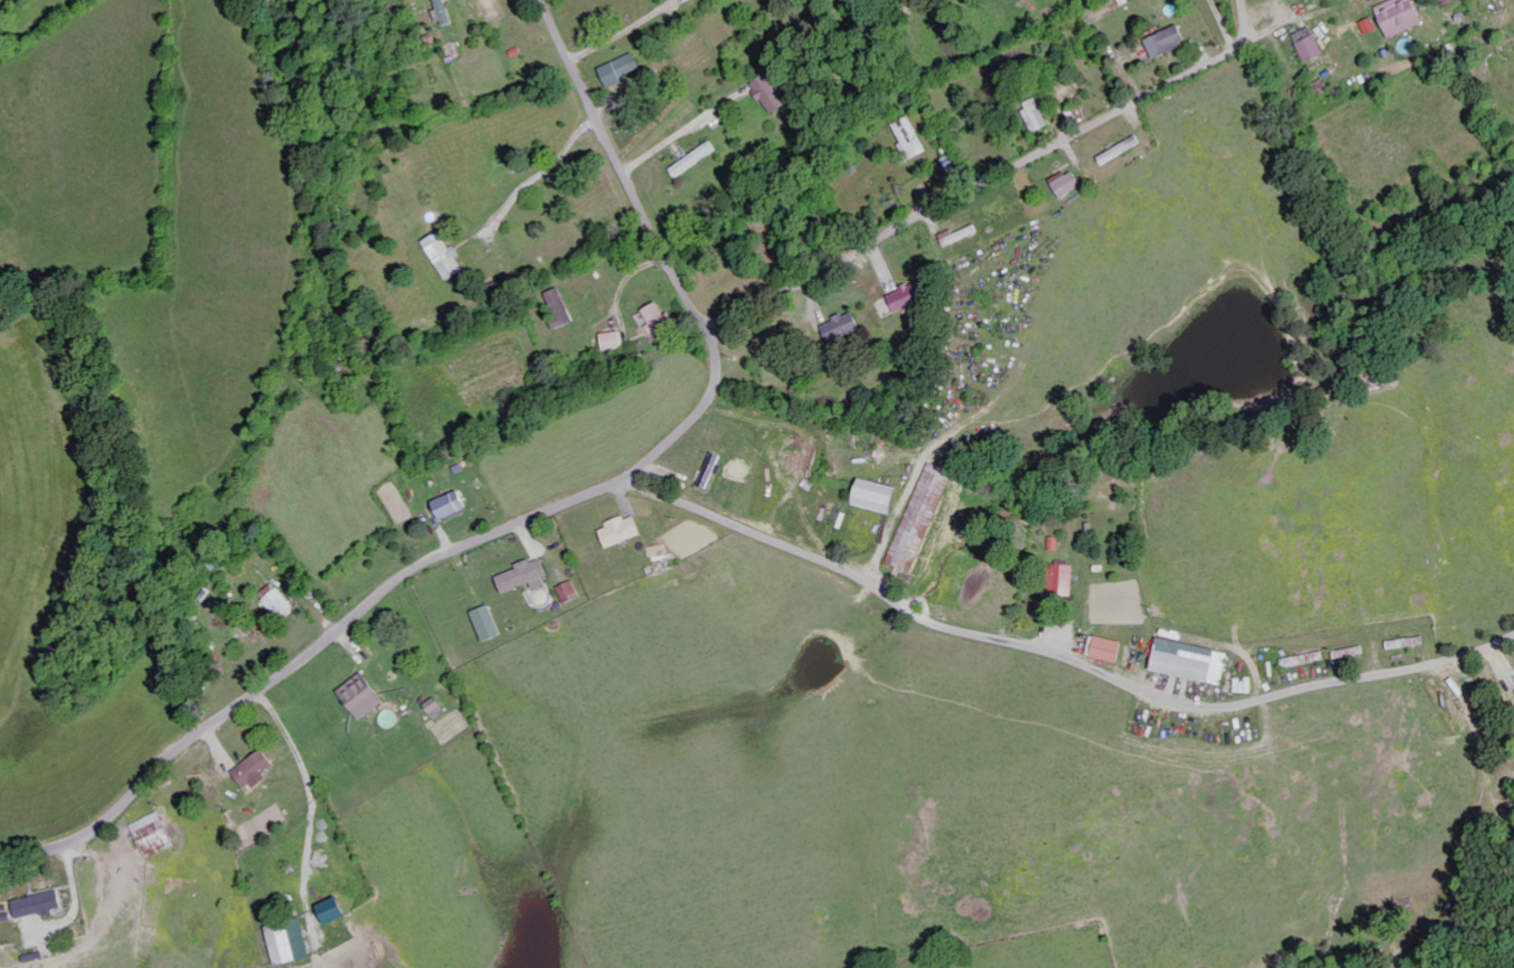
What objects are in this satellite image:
building: (446, 13)
building: (1404, 16)
building: (1169, 42)
building: (1313, 45)
building: (624, 70)
building: (772, 93)
building: (1037, 117)
building: (913, 138)
building: (696, 160)
road: (995, 176)
building: (1070, 183)
building: (448, 257)
building: (911, 297)
building: (562, 310)
building: (660, 321)
building: (845, 328)
building: (616, 341)
building: (713, 471)
building: (880, 497)
building: (454, 505)
road: (541, 515)
building: (922, 519)
building: (623, 532)
building: (1058, 544)
building: (661, 568)
building: (527, 577)
building: (1067, 582)
building: (570, 592)
building: (280, 602)
building: (488, 624)
building: (1109, 650)
road: (1060, 656)
building: (1193, 662)
building: (364, 697)
building: (438, 709)
building: (256, 769)
building: (157, 836)
road: (77, 900)
building: (43, 906)
building: (335, 912)
building: (292, 943)

